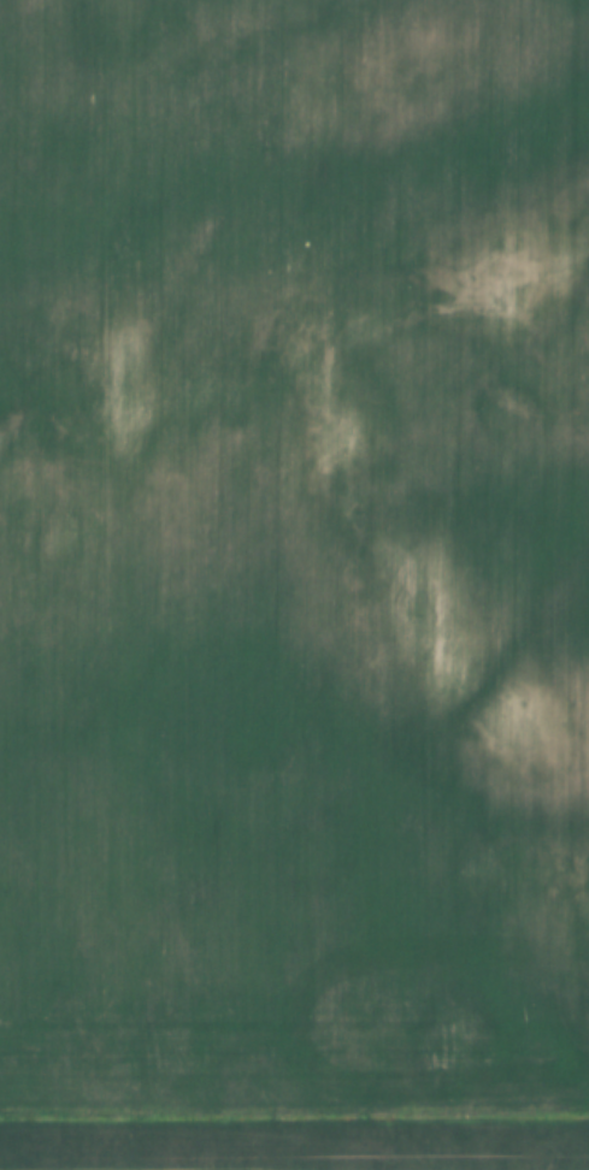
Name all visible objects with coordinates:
road: (294, 1113)

